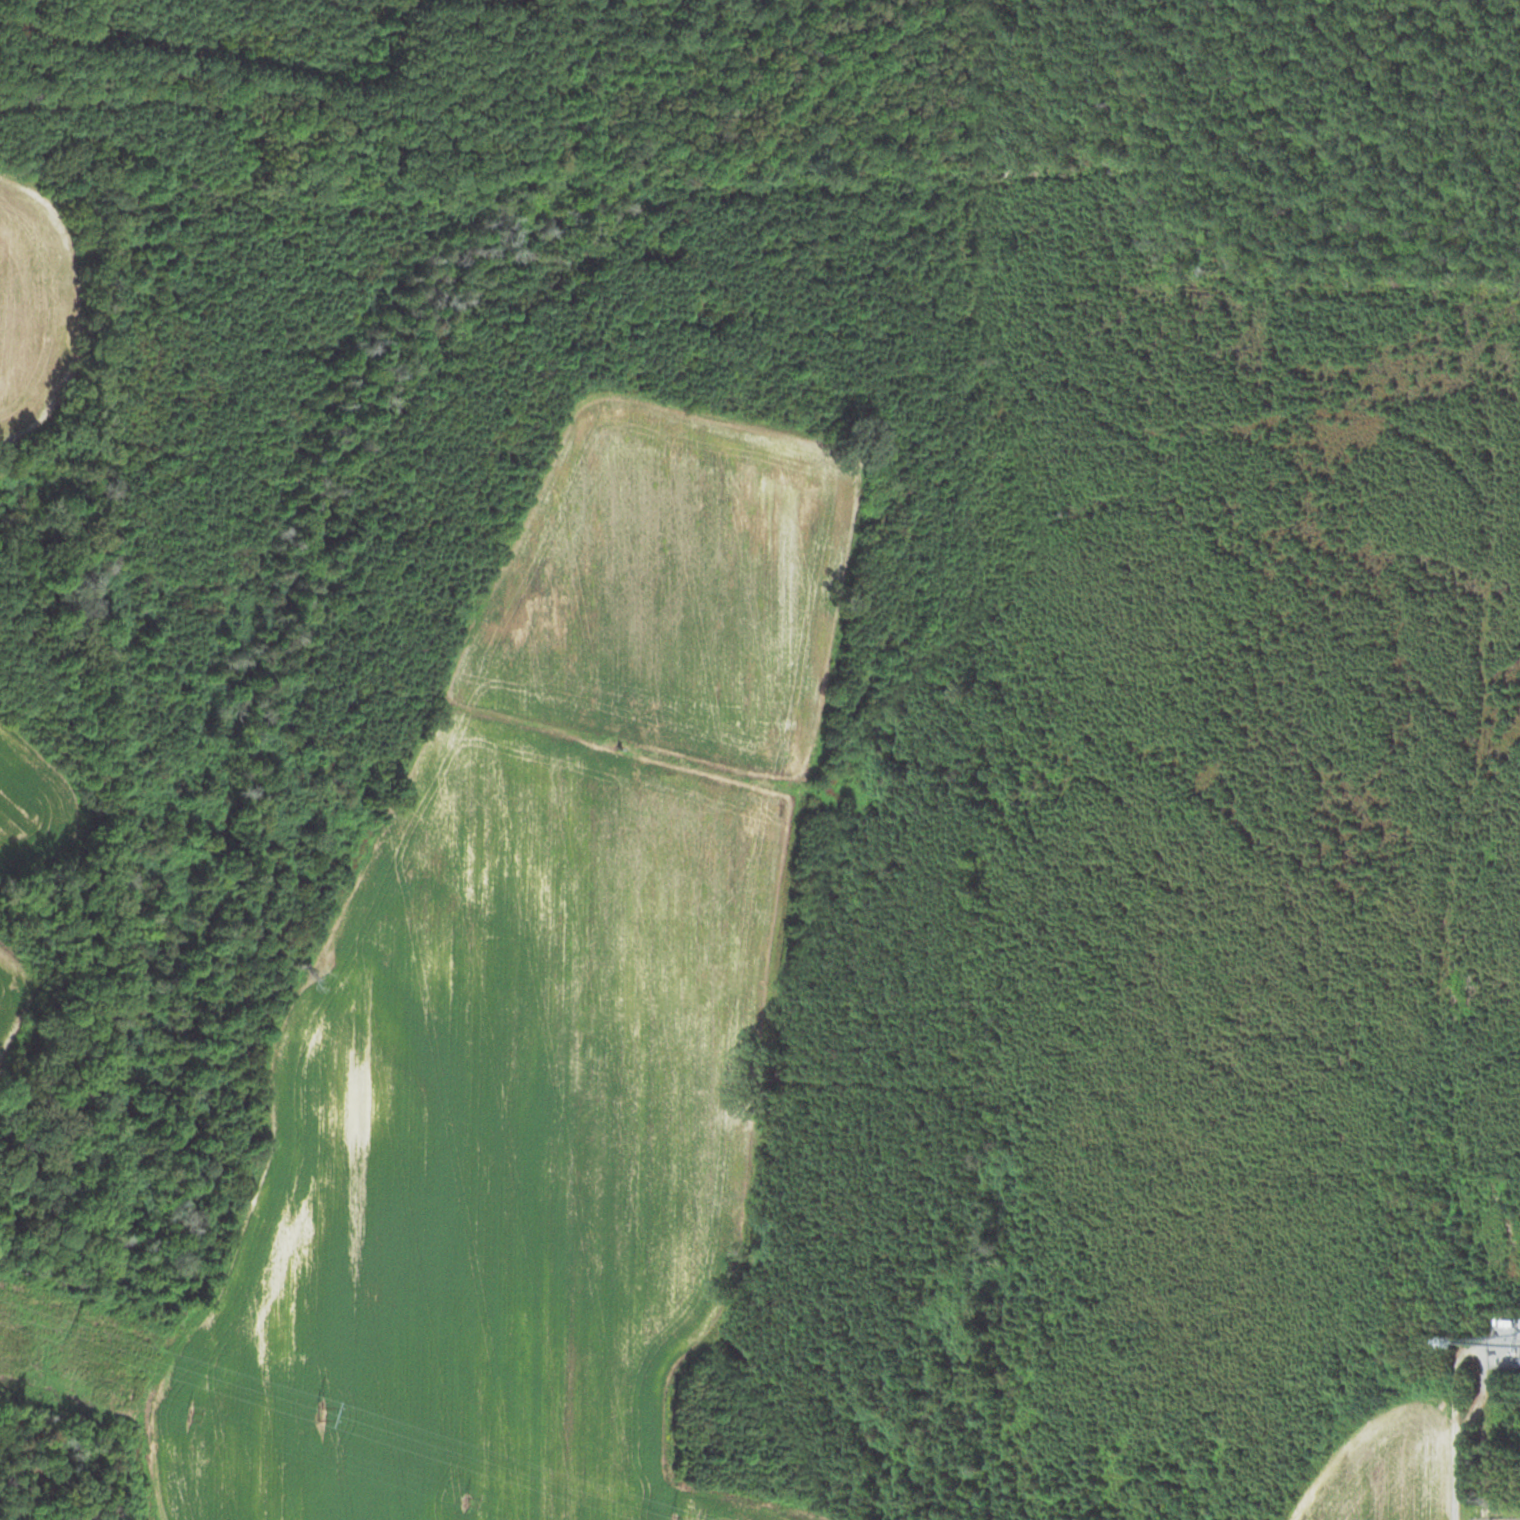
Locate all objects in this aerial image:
power tower: (323, 1414)
power tower: (671, 1519)

